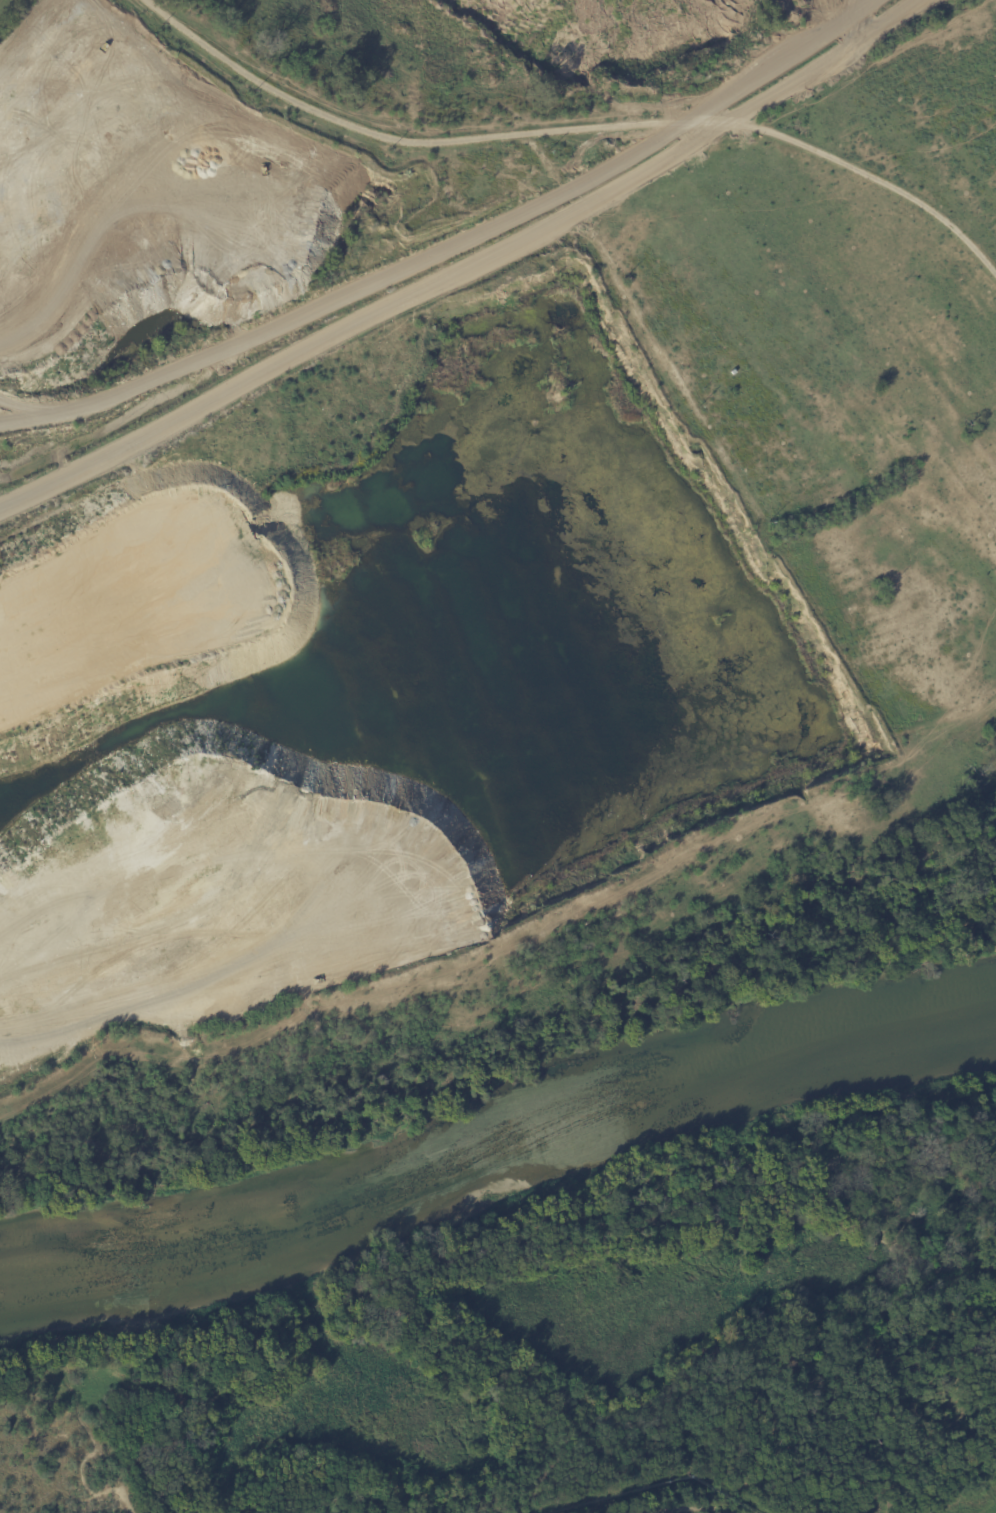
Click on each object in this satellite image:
road: (864, 19)
road: (25, 25)
road: (339, 126)
road: (623, 127)
road: (864, 181)
road: (442, 248)
river: (496, 1124)
road: (787, 1313)
road: (508, 1372)
road: (86, 1439)
crop: (978, 1498)
road: (694, 1511)

